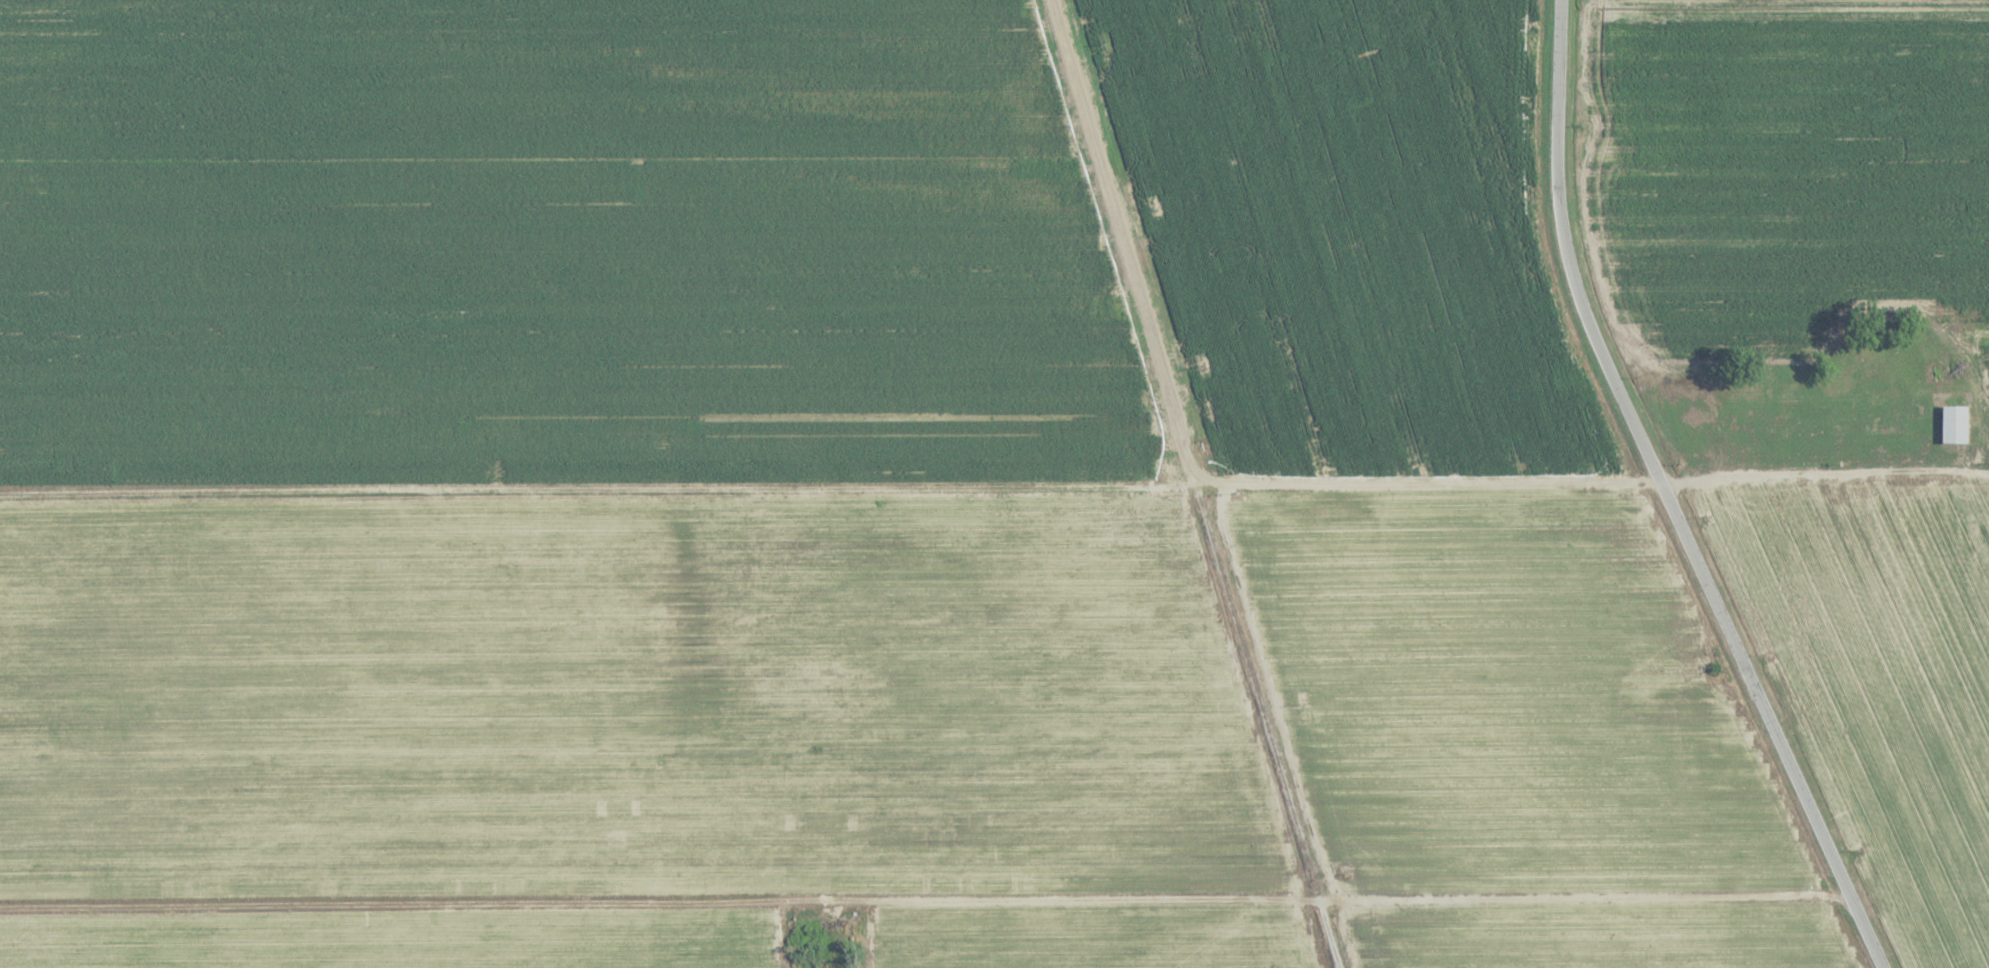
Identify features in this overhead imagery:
building: (1954, 425)
road: (995, 490)
road: (1664, 497)
road: (924, 903)

